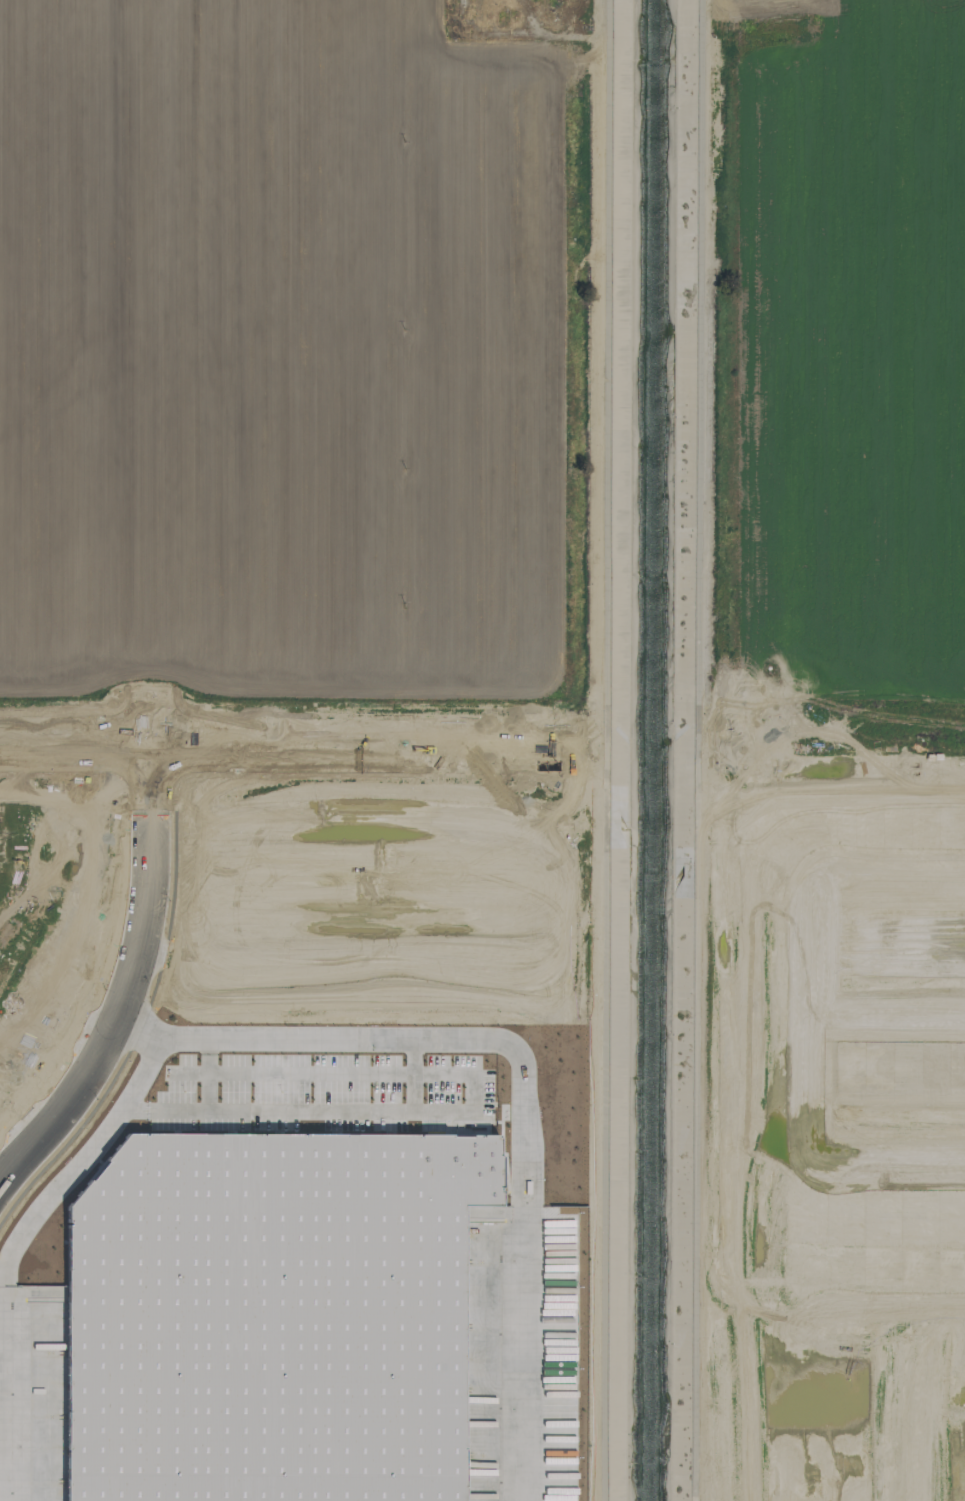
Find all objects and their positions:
crop: (299, 377)
road: (951, 406)
road: (253, 747)
road: (857, 749)
building: (360, 772)
building: (516, 798)
building: (433, 812)
building: (43, 817)
building: (334, 826)
building: (128, 831)
building: (197, 841)
building: (101, 842)
road: (893, 873)
building: (175, 892)
road: (136, 957)
road: (811, 1006)
road: (888, 1025)
road: (137, 1032)
road: (287, 1040)
building: (137, 1052)
road: (143, 1069)
road: (300, 1100)
road: (878, 1168)
road: (531, 1222)
road: (3, 1279)
building: (275, 1312)
road: (890, 1313)
road: (958, 1408)
road: (810, 1409)

